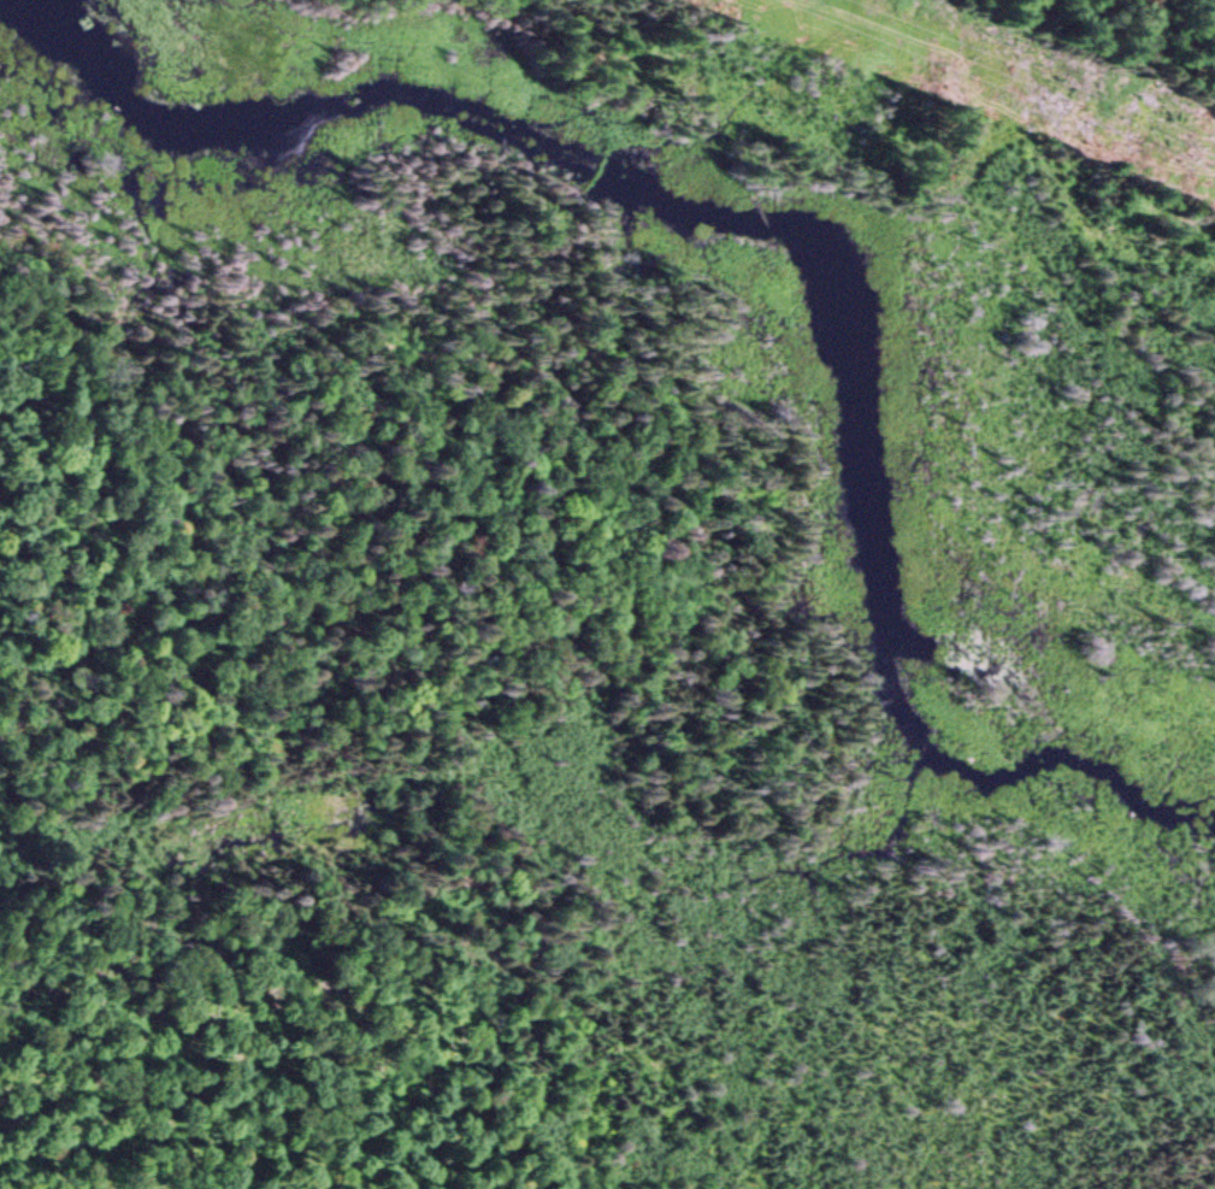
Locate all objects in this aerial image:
power tower: (1068, 107)
river: (635, 190)

